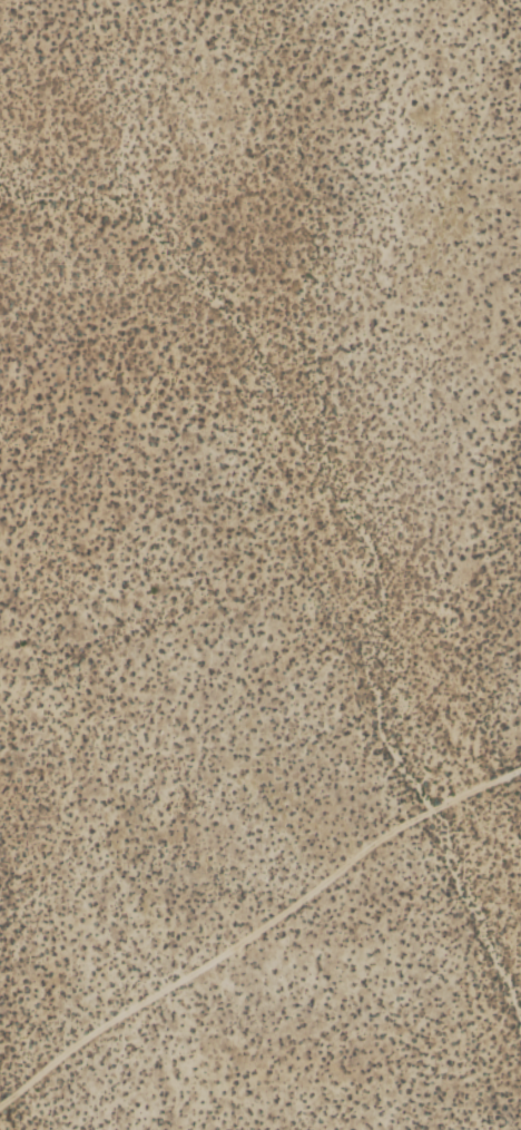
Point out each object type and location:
road: (254, 922)

